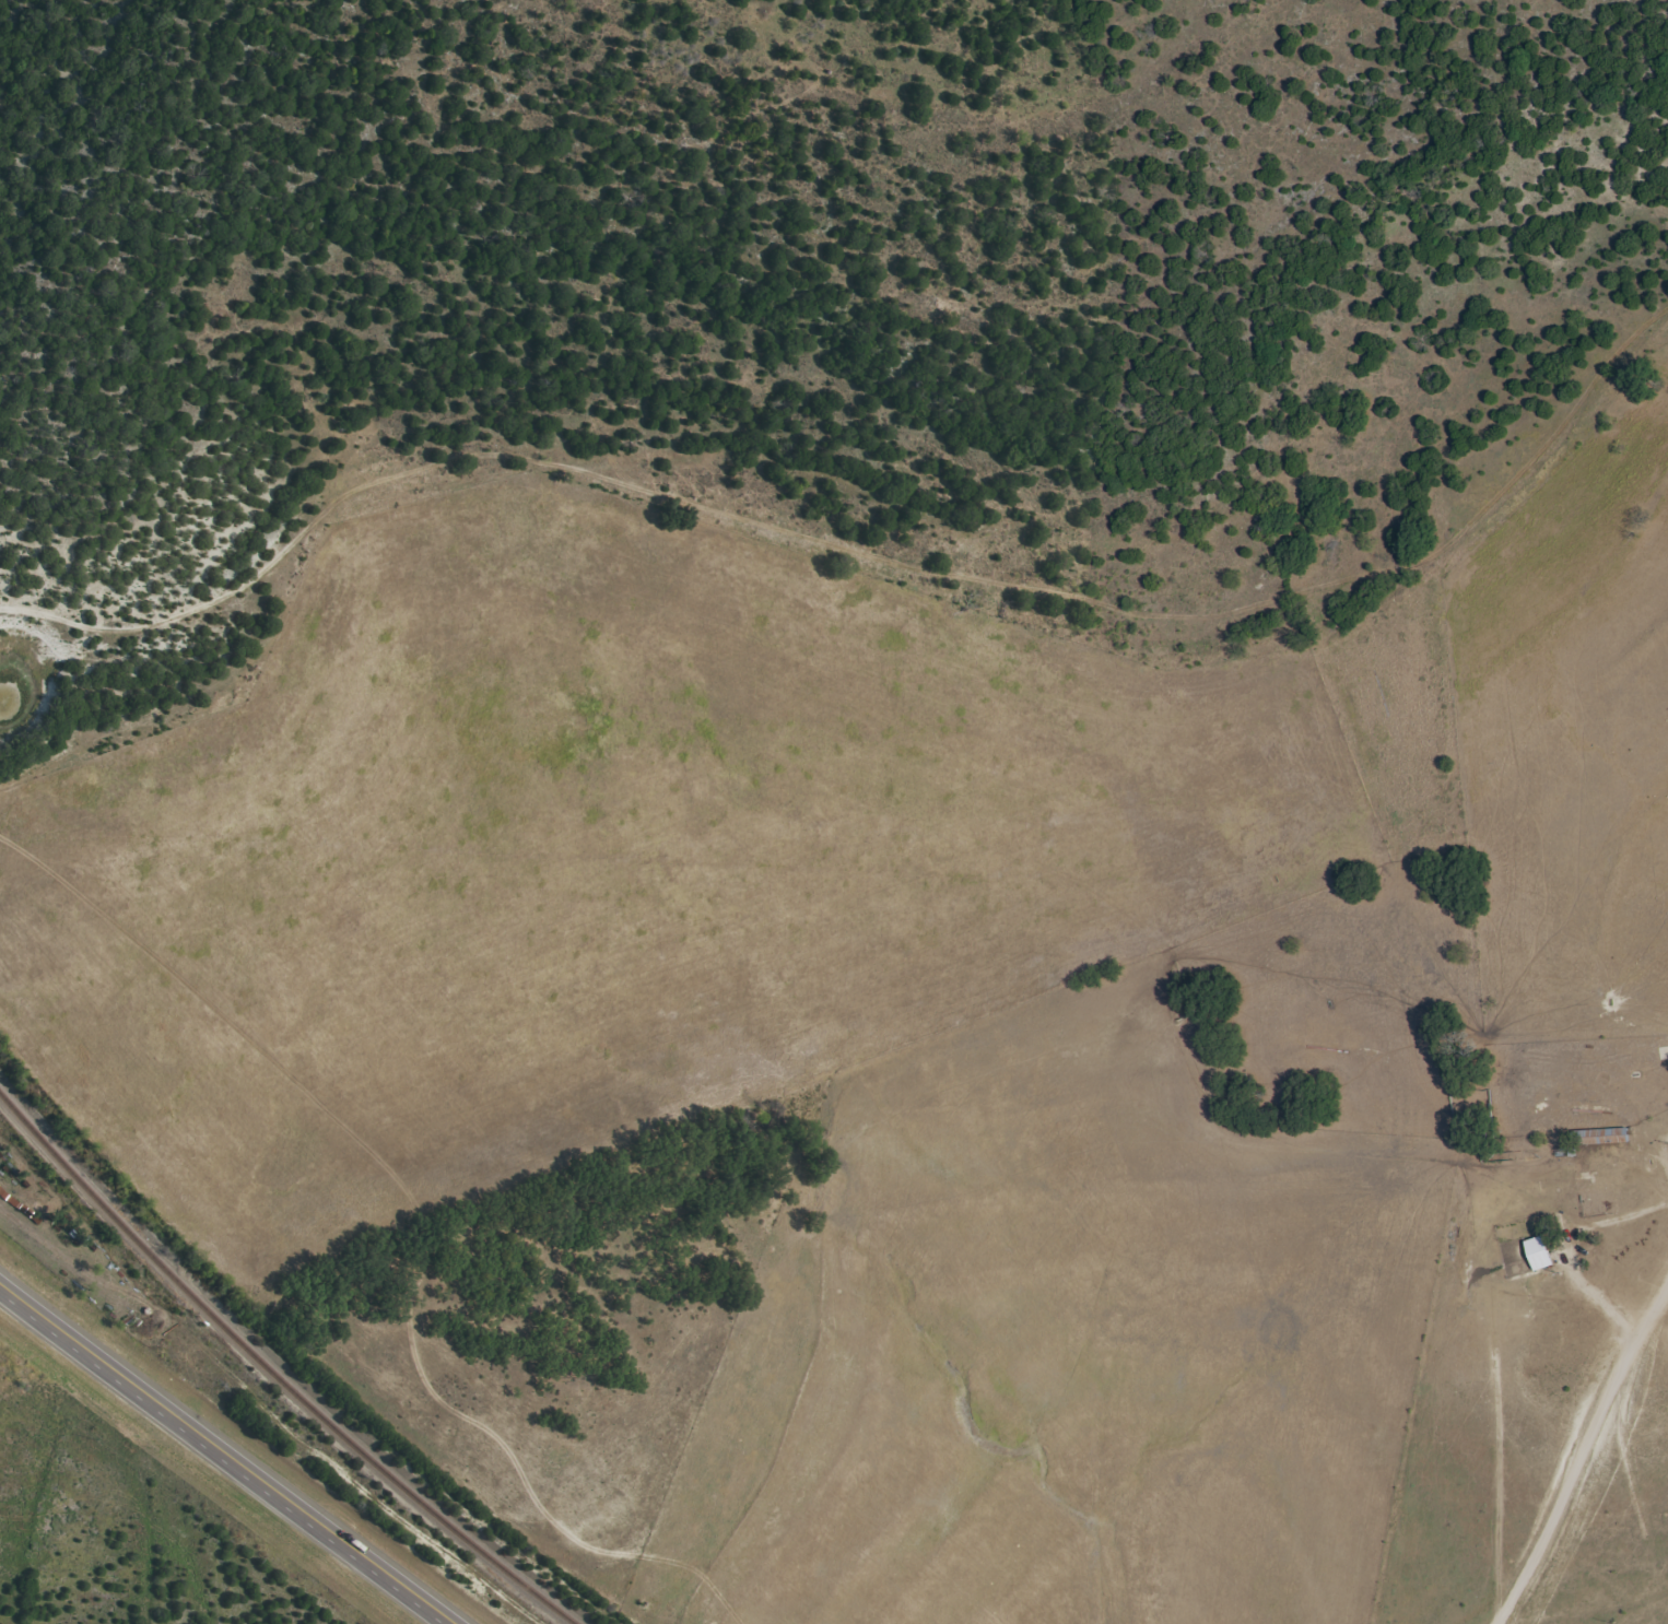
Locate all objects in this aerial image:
building: (1598, 1137)
building: (1537, 1254)
railway: (274, 1374)
road: (222, 1450)
road: (1581, 1452)
road: (1585, 1611)

